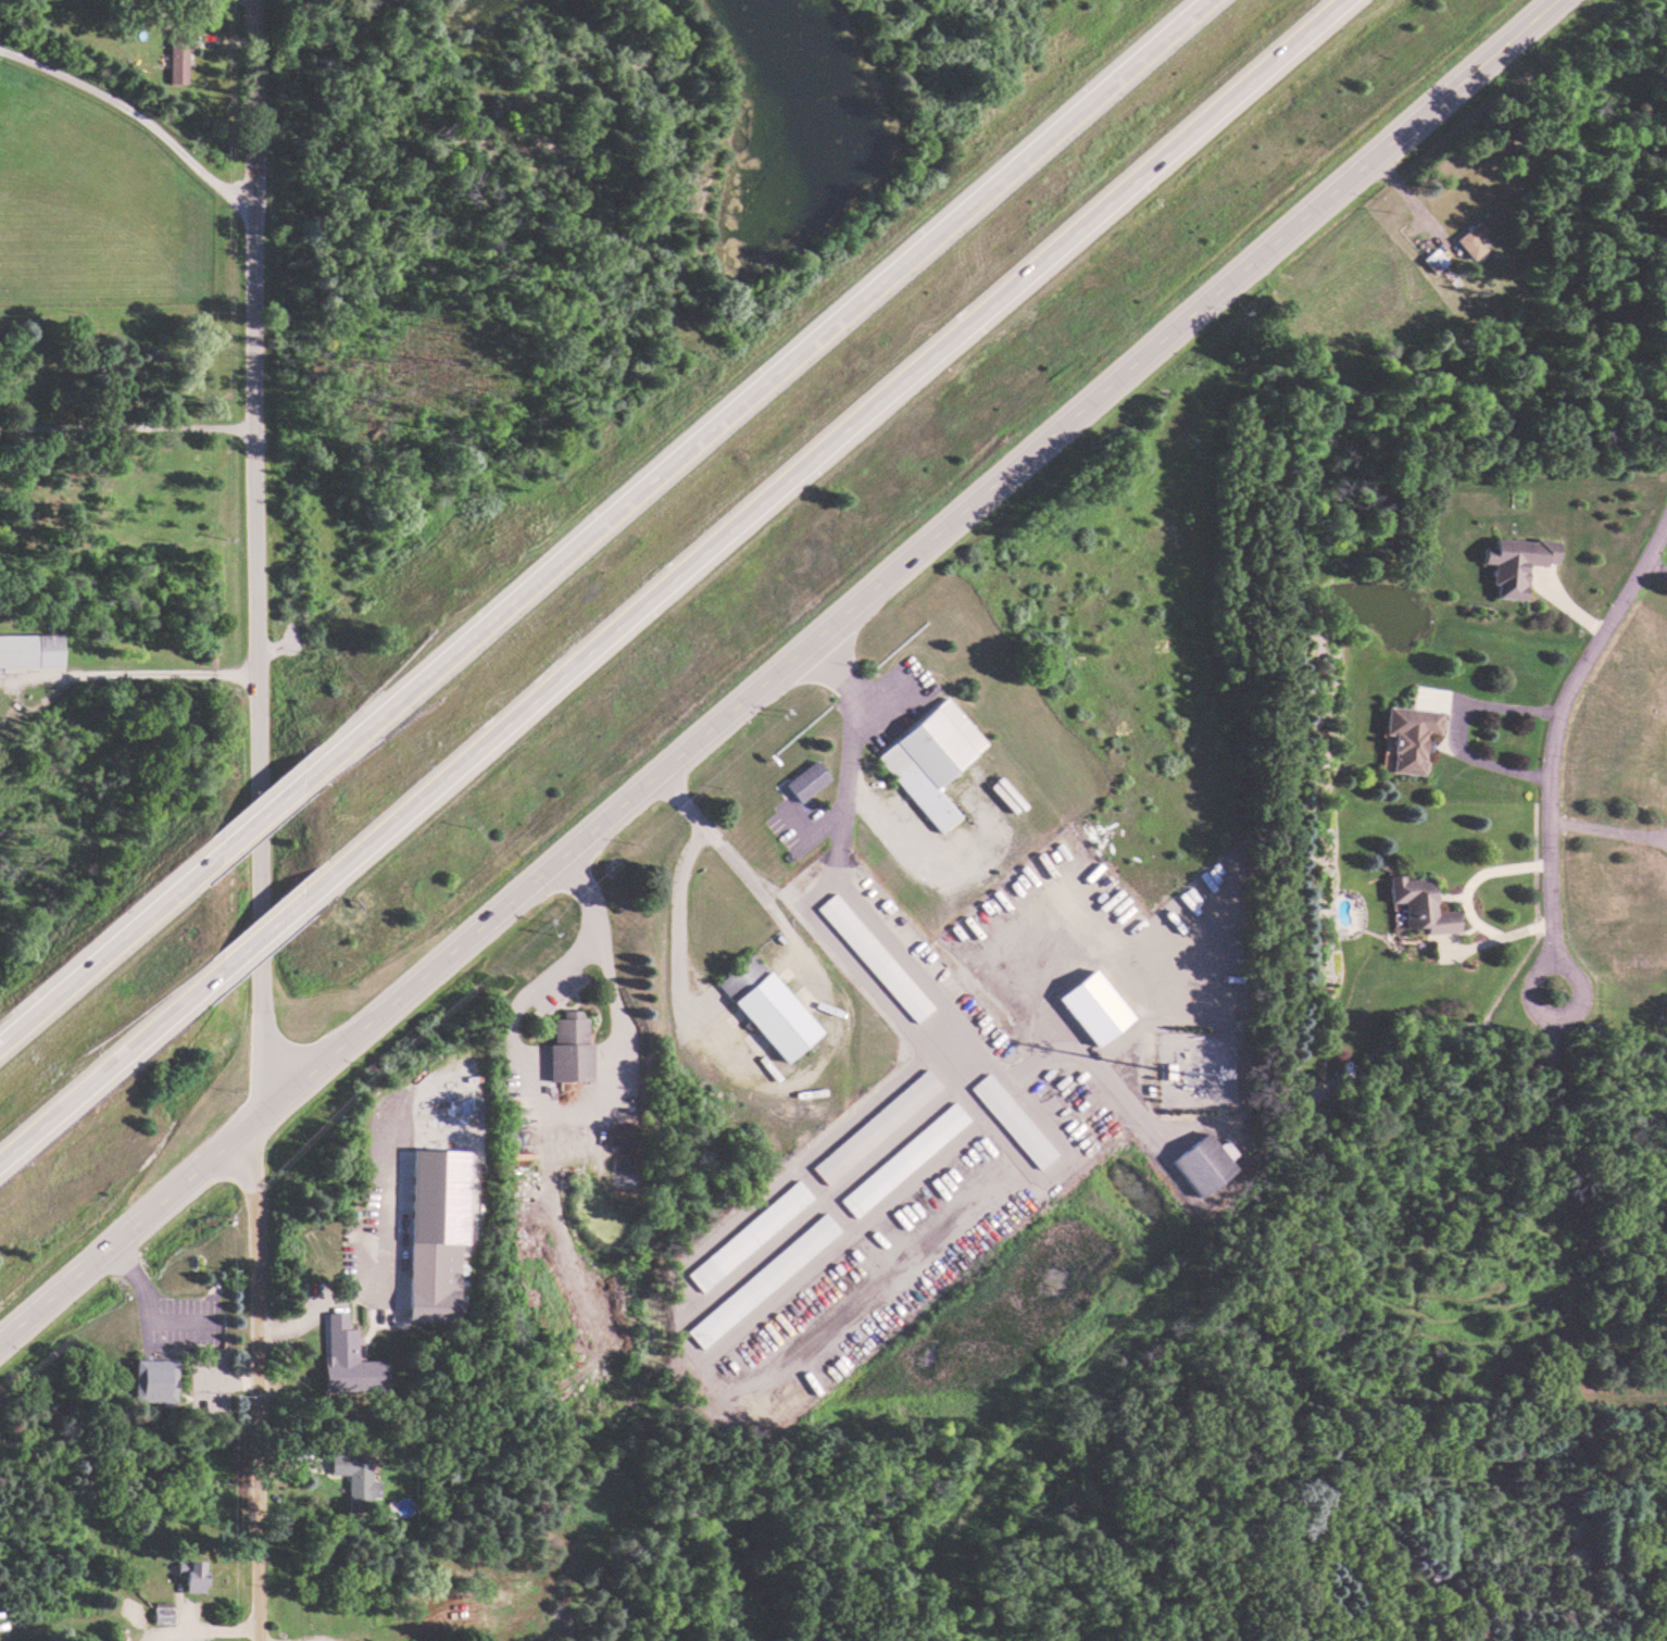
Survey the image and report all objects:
building: (176, 55)
road: (250, 85)
road: (137, 112)
road: (1407, 196)
building: (1469, 240)
building: (1432, 260)
road: (769, 374)
road: (127, 427)
road: (836, 435)
building: (1514, 563)
road: (255, 638)
building: (28, 650)
road: (776, 668)
road: (80, 674)
road: (1453, 723)
road: (1556, 729)
building: (1408, 736)
building: (928, 757)
building: (804, 780)
road: (268, 803)
road: (1606, 829)
road: (1462, 899)
building: (1419, 905)
road: (262, 931)
road: (100, 945)
road: (902, 956)
building: (872, 957)
road: (1529, 978)
building: (765, 1006)
building: (1091, 1006)
building: (567, 1049)
road: (811, 1061)
road: (95, 1075)
road: (588, 1102)
building: (1010, 1120)
building: (873, 1126)
road: (1576, 1144)
road: (261, 1148)
building: (900, 1158)
building: (1201, 1163)
building: (434, 1232)
building: (747, 1236)
building: (760, 1280)
road: (329, 1299)
building: (346, 1355)
building: (151, 1380)
road: (226, 1380)
road: (261, 1415)
building: (352, 1478)
building: (189, 1575)
building: (160, 1612)

